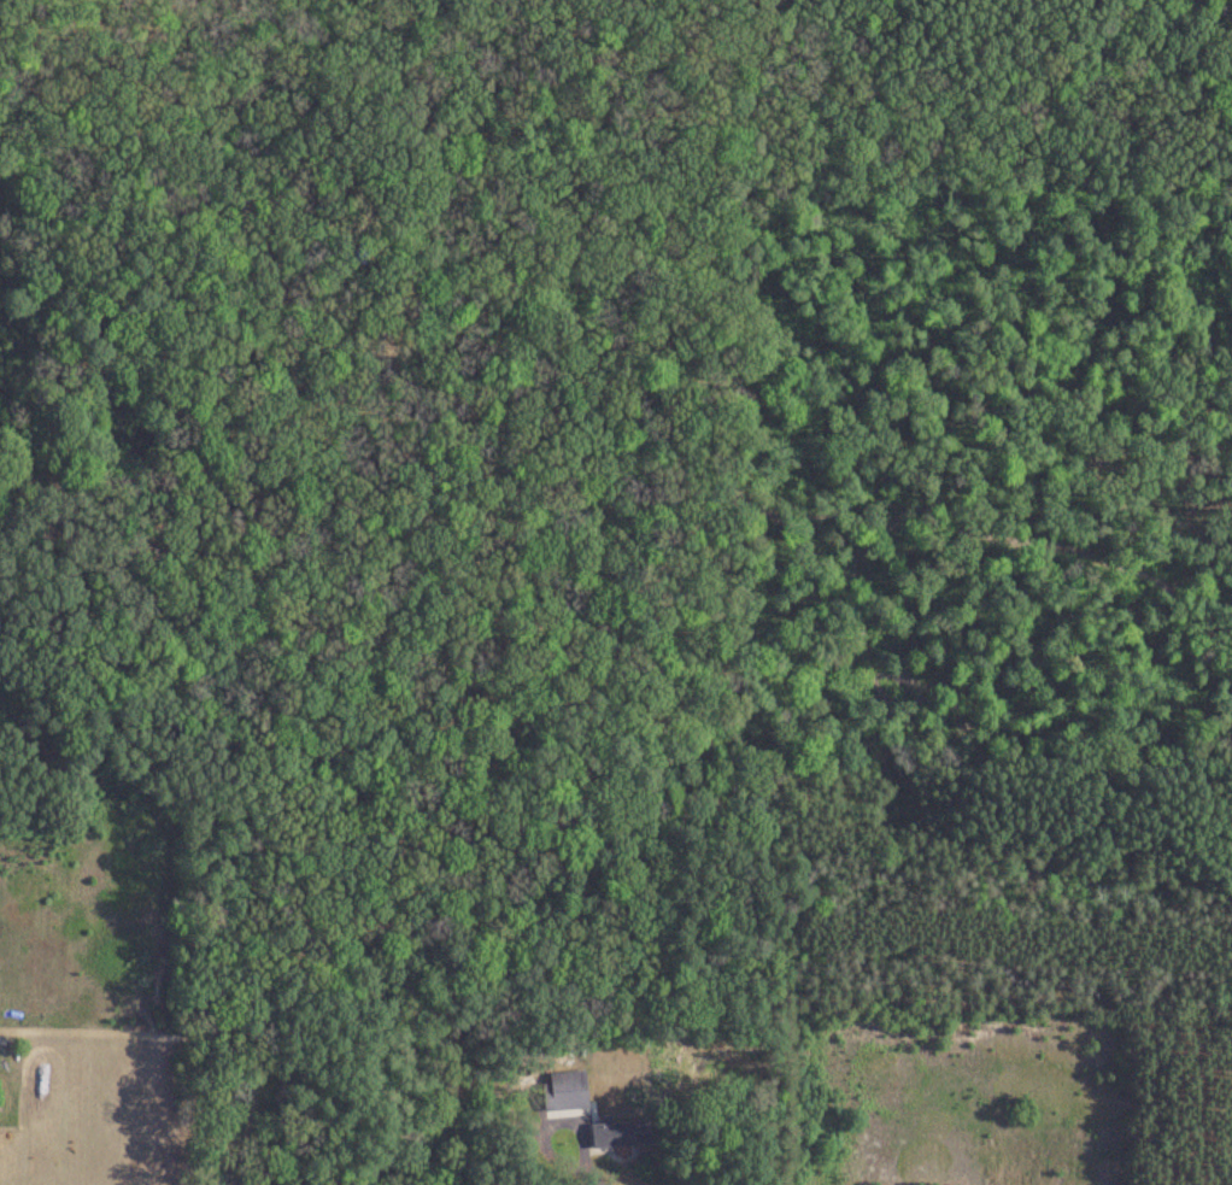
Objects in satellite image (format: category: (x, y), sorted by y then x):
building: (616, 1134)

